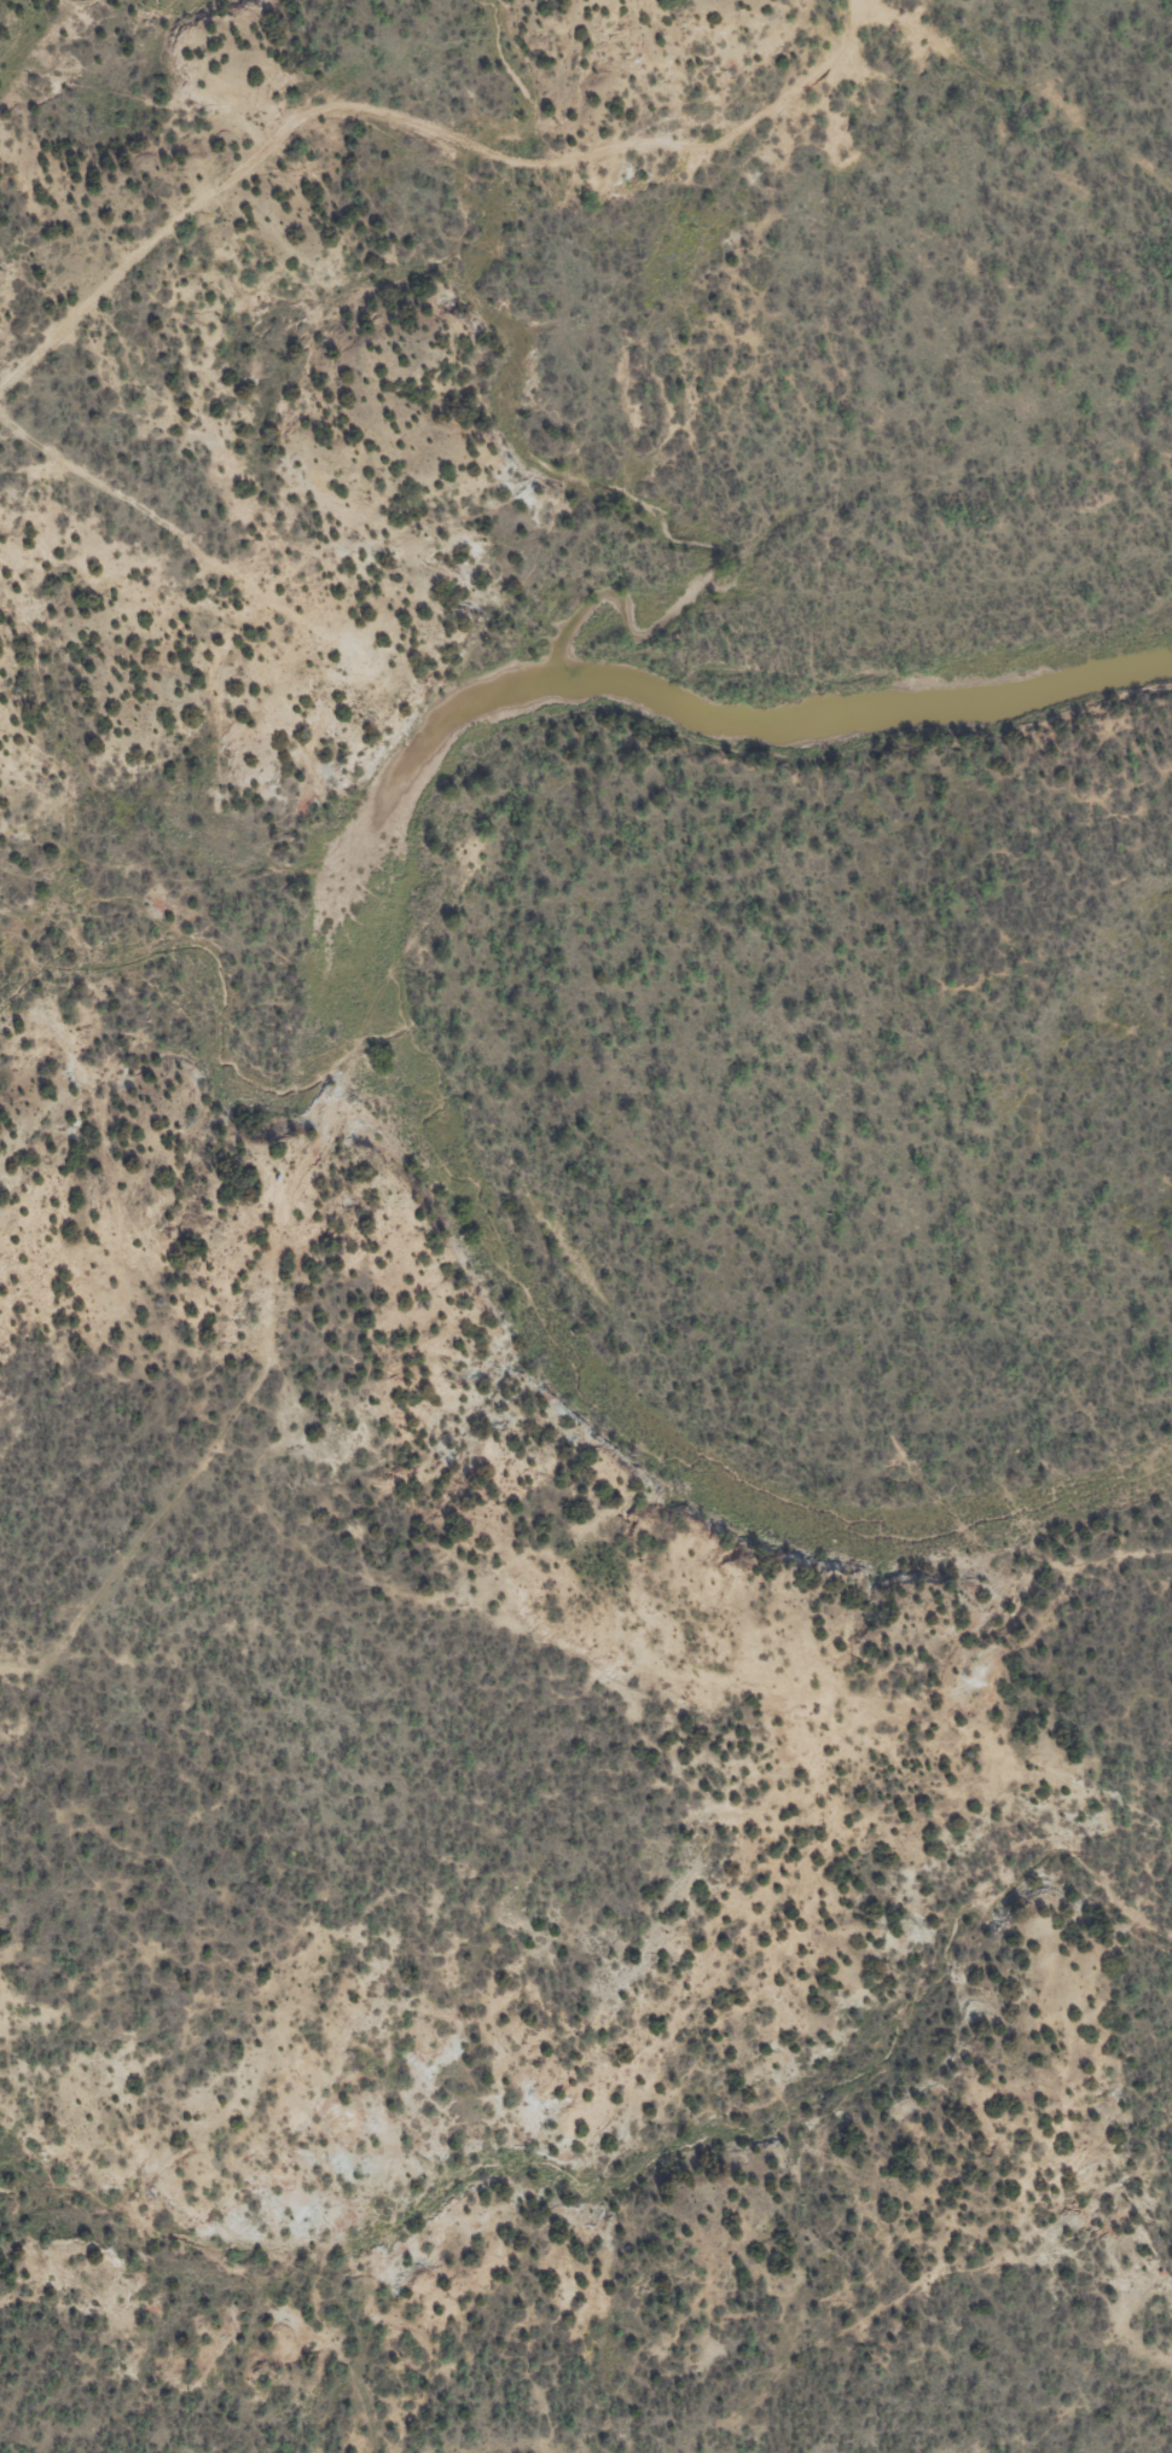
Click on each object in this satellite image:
road: (350, 134)

